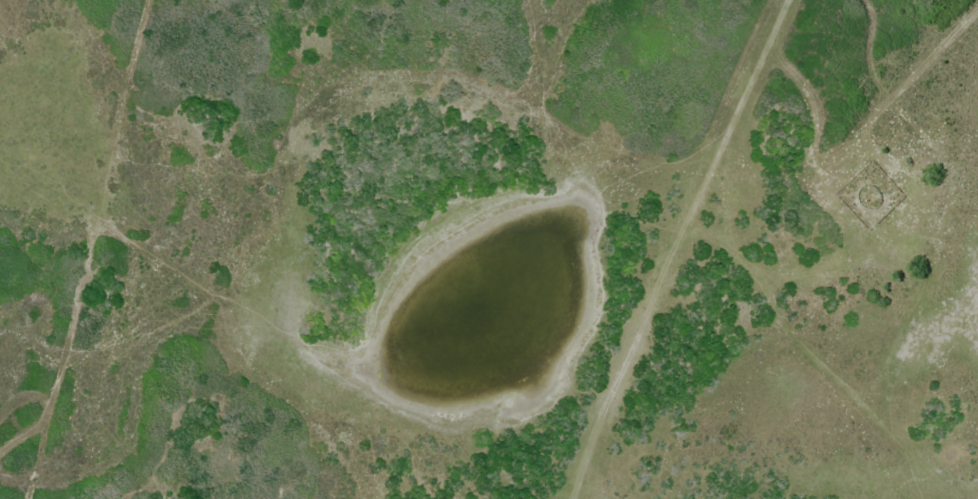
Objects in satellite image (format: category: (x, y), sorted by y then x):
road: (651, 246)

